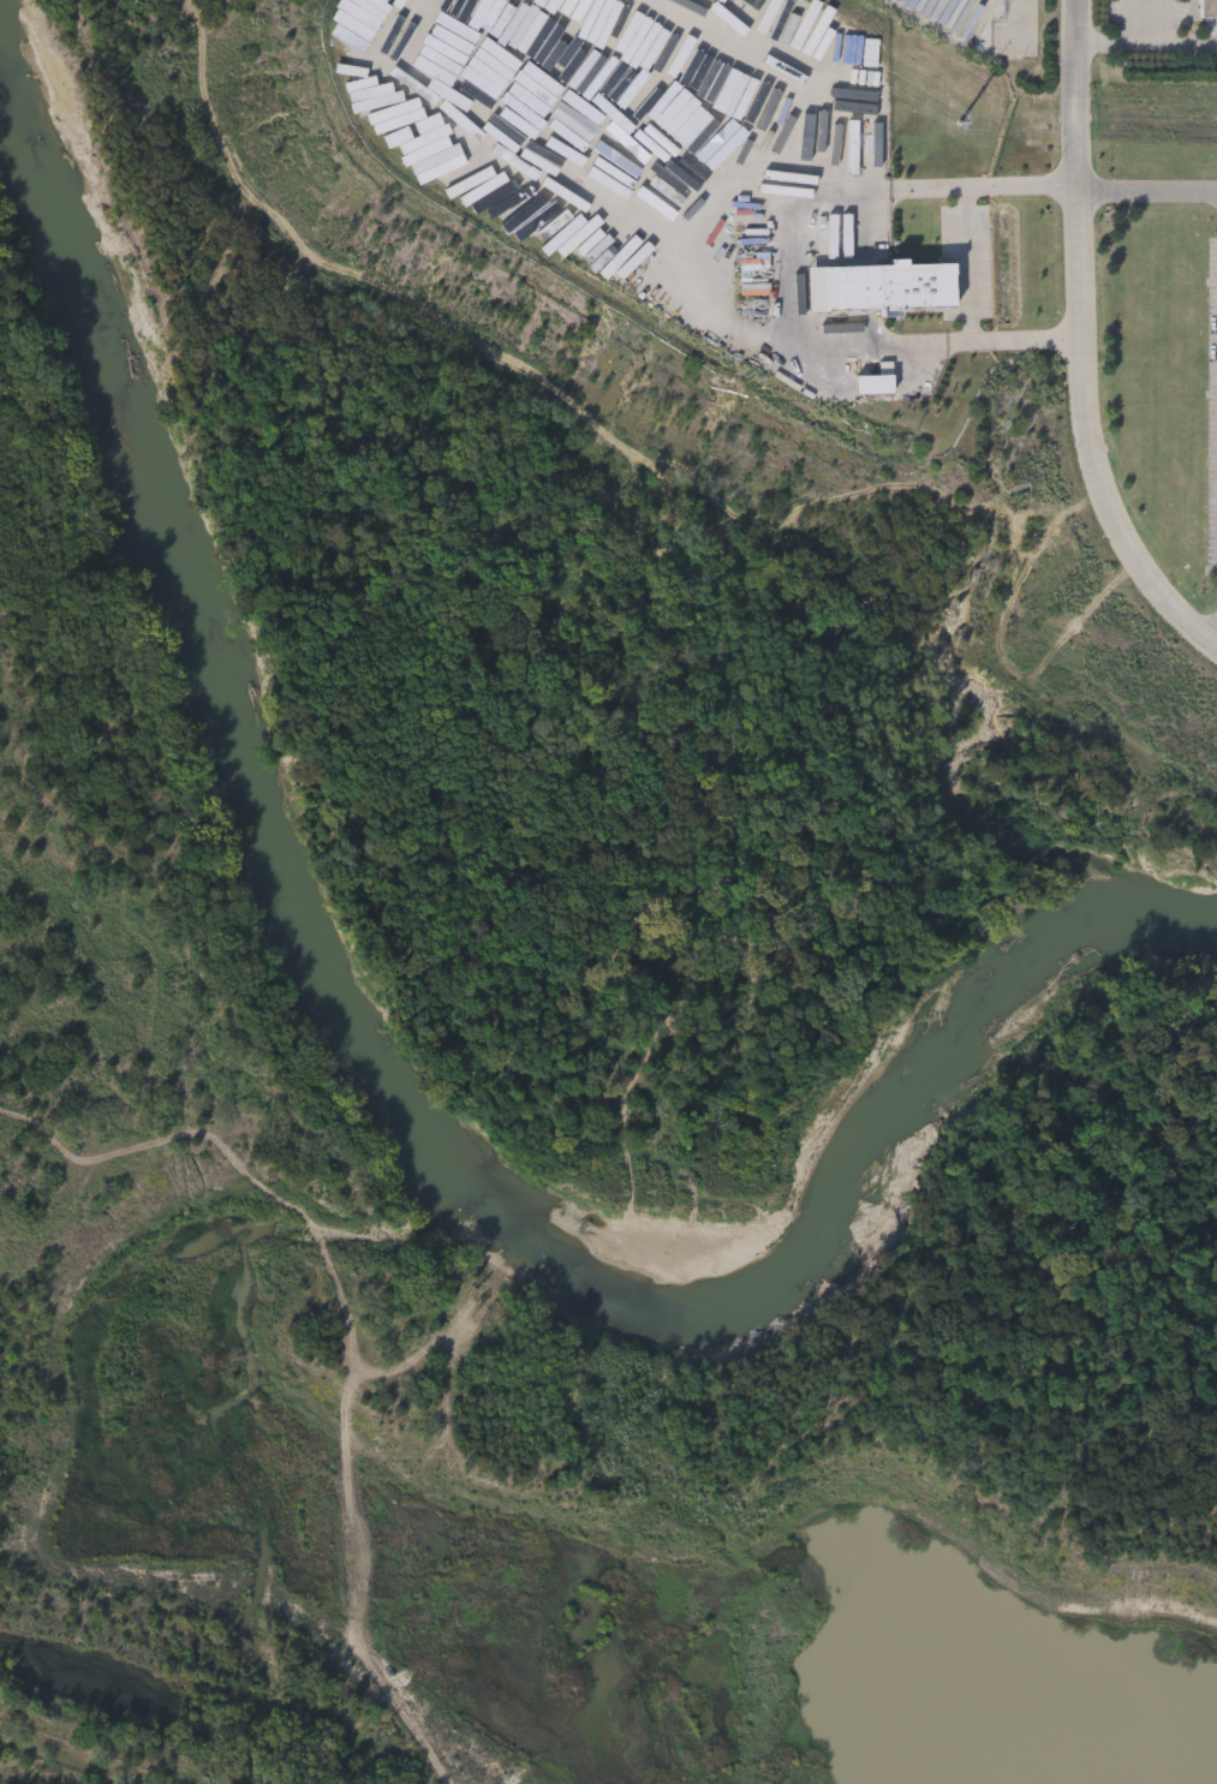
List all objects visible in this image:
building: (1207, 10)
road: (1146, 48)
power tower: (978, 133)
road: (1147, 191)
road: (967, 267)
road: (783, 276)
building: (890, 287)
road: (1087, 347)
building: (882, 386)
road: (1211, 642)
river: (378, 1091)

